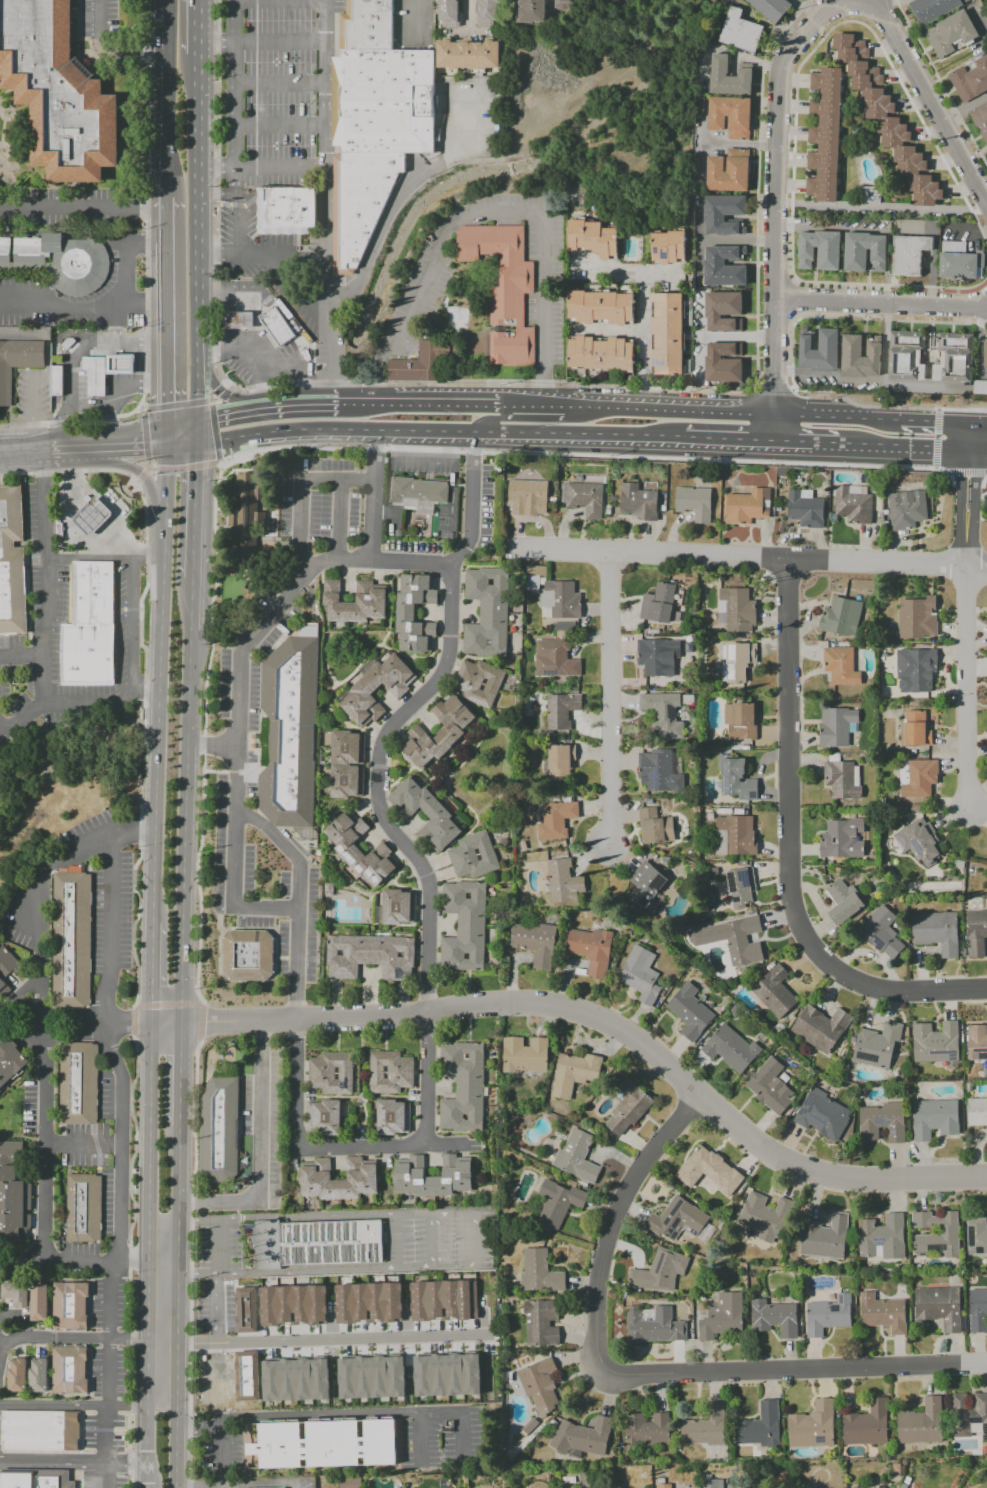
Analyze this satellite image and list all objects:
building: (967, 1)
building: (563, 4)
building: (771, 9)
building: (932, 9)
building: (531, 11)
building: (491, 13)
building: (454, 14)
road: (470, 15)
road: (415, 20)
building: (740, 31)
road: (166, 32)
building: (951, 33)
road: (181, 42)
road: (260, 42)
road: (109, 49)
building: (472, 55)
building: (729, 77)
building: (970, 80)
road: (281, 84)
road: (941, 84)
road: (194, 86)
building: (59, 91)
parking lot: (273, 93)
road: (928, 99)
road: (796, 103)
building: (731, 116)
building: (887, 119)
building: (980, 121)
building: (374, 122)
road: (280, 125)
road: (237, 128)
road: (166, 132)
building: (825, 135)
road: (738, 144)
road: (259, 167)
building: (728, 171)
building: (870, 194)
road: (215, 195)
road: (324, 203)
road: (82, 206)
road: (881, 207)
building: (286, 210)
road: (491, 214)
building: (724, 214)
road: (166, 221)
building: (637, 233)
building: (592, 238)
road: (775, 242)
building: (668, 247)
building: (820, 250)
road: (126, 252)
building: (864, 252)
building: (909, 254)
road: (270, 259)
building: (60, 261)
building: (960, 261)
parking lot: (274, 264)
building: (725, 266)
road: (611, 268)
road: (144, 274)
road: (794, 280)
building: (503, 290)
road: (792, 291)
road: (194, 298)
road: (83, 305)
building: (601, 307)
building: (282, 310)
building: (724, 311)
building: (235, 320)
building: (279, 326)
road: (112, 329)
building: (667, 334)
gas station: (261, 337)
road: (167, 340)
road: (123, 341)
road: (648, 341)
building: (819, 350)
building: (600, 354)
building: (906, 355)
building: (985, 355)
building: (861, 357)
building: (954, 357)
road: (791, 359)
building: (424, 361)
building: (17, 362)
building: (723, 362)
building: (123, 365)
gas station: (123, 365)
rooftop solar panel: (657, 366)
road: (45, 371)
road: (774, 371)
building: (96, 376)
building: (58, 382)
road: (145, 383)
road: (496, 383)
road: (222, 385)
building: (980, 387)
road: (770, 388)
road: (216, 389)
road: (217, 390)
road: (210, 397)
road: (209, 401)
road: (175, 404)
road: (367, 404)
road: (449, 405)
road: (536, 406)
road: (140, 407)
road: (295, 407)
road: (109, 410)
road: (762, 414)
road: (221, 417)
road: (489, 419)
traffic signals: (193, 423)
road: (973, 423)
road: (180, 430)
road: (435, 431)
road: (145, 433)
road: (213, 433)
road: (193, 434)
traffic signals: (168, 438)
road: (935, 439)
road: (130, 440)
road: (725, 441)
road: (180, 442)
road: (69, 444)
traffic signals: (193, 446)
road: (311, 446)
road: (879, 446)
road: (23, 447)
road: (425, 456)
road: (219, 463)
road: (147, 465)
road: (151, 468)
road: (186, 468)
road: (965, 471)
road: (959, 472)
road: (974, 473)
road: (144, 475)
road: (141, 476)
road: (983, 480)
road: (299, 493)
building: (416, 493)
road: (373, 496)
building: (526, 497)
building: (582, 498)
building: (64, 502)
building: (637, 502)
building: (693, 502)
building: (852, 505)
building: (746, 506)
building: (804, 508)
building: (905, 509)
rooftop solar panel: (247, 510)
road: (192, 511)
building: (95, 517)
gas station: (95, 517)
building: (247, 517)
road: (337, 520)
park: (444, 521)
building: (57, 529)
road: (86, 556)
road: (148, 556)
road: (749, 560)
building: (13, 564)
building: (530, 582)
building: (369, 593)
building: (558, 600)
building: (657, 603)
road: (190, 605)
building: (735, 609)
building: (414, 612)
building: (486, 612)
building: (840, 616)
building: (916, 617)
road: (130, 621)
building: (561, 626)
building: (89, 627)
road: (42, 640)
road: (21, 652)
building: (657, 656)
building: (554, 659)
building: (736, 661)
road: (966, 664)
building: (840, 666)
building: (914, 670)
road: (143, 673)
road: (161, 680)
building: (477, 682)
building: (373, 687)
road: (188, 688)
road: (608, 700)
building: (560, 710)
rooftop solar panel: (672, 712)
road: (22, 713)
building: (662, 713)
road: (399, 720)
building: (740, 720)
building: (835, 726)
building: (916, 727)
building: (438, 733)
building: (294, 734)
rooftop solar panel: (672, 736)
road: (237, 740)
road: (212, 744)
building: (560, 762)
building: (346, 764)
rooftop solar panel: (731, 770)
building: (657, 771)
building: (916, 777)
building: (735, 779)
building: (842, 779)
rooftop solar panel: (755, 792)
rooftop solar panel: (748, 795)
building: (425, 813)
building: (555, 819)
building: (655, 827)
building: (734, 835)
building: (842, 838)
building: (918, 841)
rooftop solar panel: (899, 846)
rooftop solar panel: (919, 847)
road: (286, 849)
building: (360, 850)
road: (787, 852)
building: (472, 855)
rooftop solar panel: (746, 878)
building: (563, 880)
rooftop solar panel: (733, 882)
road: (184, 883)
building: (644, 884)
building: (739, 887)
rooftop solar panel: (650, 892)
rooftop solar panel: (734, 898)
rooftop solar panel: (645, 900)
building: (843, 900)
road: (41, 905)
building: (397, 907)
building: (463, 926)
building: (936, 931)
building: (881, 933)
building: (975, 933)
building: (730, 939)
building: (74, 942)
building: (534, 943)
building: (590, 949)
building: (369, 956)
building: (251, 958)
building: (5, 968)
road: (110, 970)
road: (156, 973)
building: (639, 974)
building: (773, 992)
road: (170, 1004)
building: (689, 1011)
road: (91, 1021)
road: (608, 1024)
building: (818, 1028)
building: (935, 1042)
building: (976, 1042)
building: (875, 1045)
building: (730, 1048)
rooftop solar panel: (986, 1051)
building: (524, 1054)
rooftop solar panel: (864, 1057)
rooftop solar panel: (986, 1057)
building: (9, 1059)
building: (389, 1072)
building: (330, 1073)
building: (572, 1073)
road: (180, 1075)
building: (82, 1084)
building: (769, 1086)
building: (462, 1087)
building: (627, 1107)
rooftop solar panel: (812, 1108)
building: (976, 1111)
building: (822, 1115)
building: (324, 1117)
building: (392, 1117)
rooftop solar panel: (817, 1118)
building: (933, 1118)
building: (882, 1122)
road: (152, 1127)
building: (222, 1130)
rooftop solar panel: (893, 1134)
road: (46, 1140)
road: (84, 1145)
road: (365, 1147)
road: (258, 1151)
building: (576, 1156)
road: (177, 1165)
building: (455, 1168)
building: (314, 1171)
building: (708, 1171)
building: (13, 1193)
building: (557, 1202)
road: (121, 1204)
building: (83, 1208)
road: (177, 1211)
building: (764, 1216)
building: (677, 1219)
road: (196, 1220)
road: (163, 1225)
road: (611, 1225)
building: (934, 1233)
rooftop solar panel: (968, 1236)
building: (976, 1236)
building: (880, 1237)
building: (825, 1238)
rooftop solar panel: (881, 1240)
road: (435, 1241)
road: (474, 1241)
road: (392, 1242)
building: (317, 1245)
road: (148, 1246)
road: (176, 1246)
road: (216, 1246)
rooftop solar panel: (939, 1249)
rooftop solar panel: (980, 1251)
road: (60, 1261)
road: (128, 1262)
road: (134, 1263)
road: (190, 1265)
road: (148, 1268)
building: (659, 1271)
road: (162, 1272)
road: (195, 1272)
building: (538, 1272)
building: (15, 1293)
rooftop solar panel: (841, 1299)
building: (443, 1300)
building: (38, 1302)
building: (367, 1303)
building: (73, 1307)
building: (938, 1307)
road: (215, 1308)
rooftop solar panel: (835, 1308)
building: (245, 1309)
building: (311, 1310)
building: (977, 1310)
building: (882, 1313)
building: (827, 1314)
building: (415, 1315)
building: (721, 1317)
building: (773, 1317)
building: (540, 1322)
building: (653, 1325)
road: (351, 1338)
road: (72, 1339)
road: (182, 1341)
road: (0, 1343)
road: (790, 1368)
building: (72, 1371)
road: (108, 1374)
building: (16, 1375)
building: (446, 1375)
building: (37, 1376)
building: (370, 1377)
road: (149, 1380)
road: (173, 1380)
building: (294, 1380)
building: (539, 1385)
road: (53, 1406)
road: (127, 1406)
road: (326, 1415)
building: (969, 1415)
building: (921, 1423)
building: (866, 1424)
building: (759, 1426)
building: (811, 1426)
building: (704, 1427)
building: (646, 1429)
building: (43, 1432)
road: (420, 1436)
building: (582, 1436)
rooftop solar panel: (821, 1439)
building: (325, 1445)
road: (4, 1461)
road: (58, 1462)
road: (127, 1463)
road: (4, 1464)
building: (37, 1479)
building: (349, 1482)
road: (252, 1483)
building: (711, 1483)
building: (662, 1486)
building: (282, 1487)
building: (855, 1487)
building: (876, 1487)

